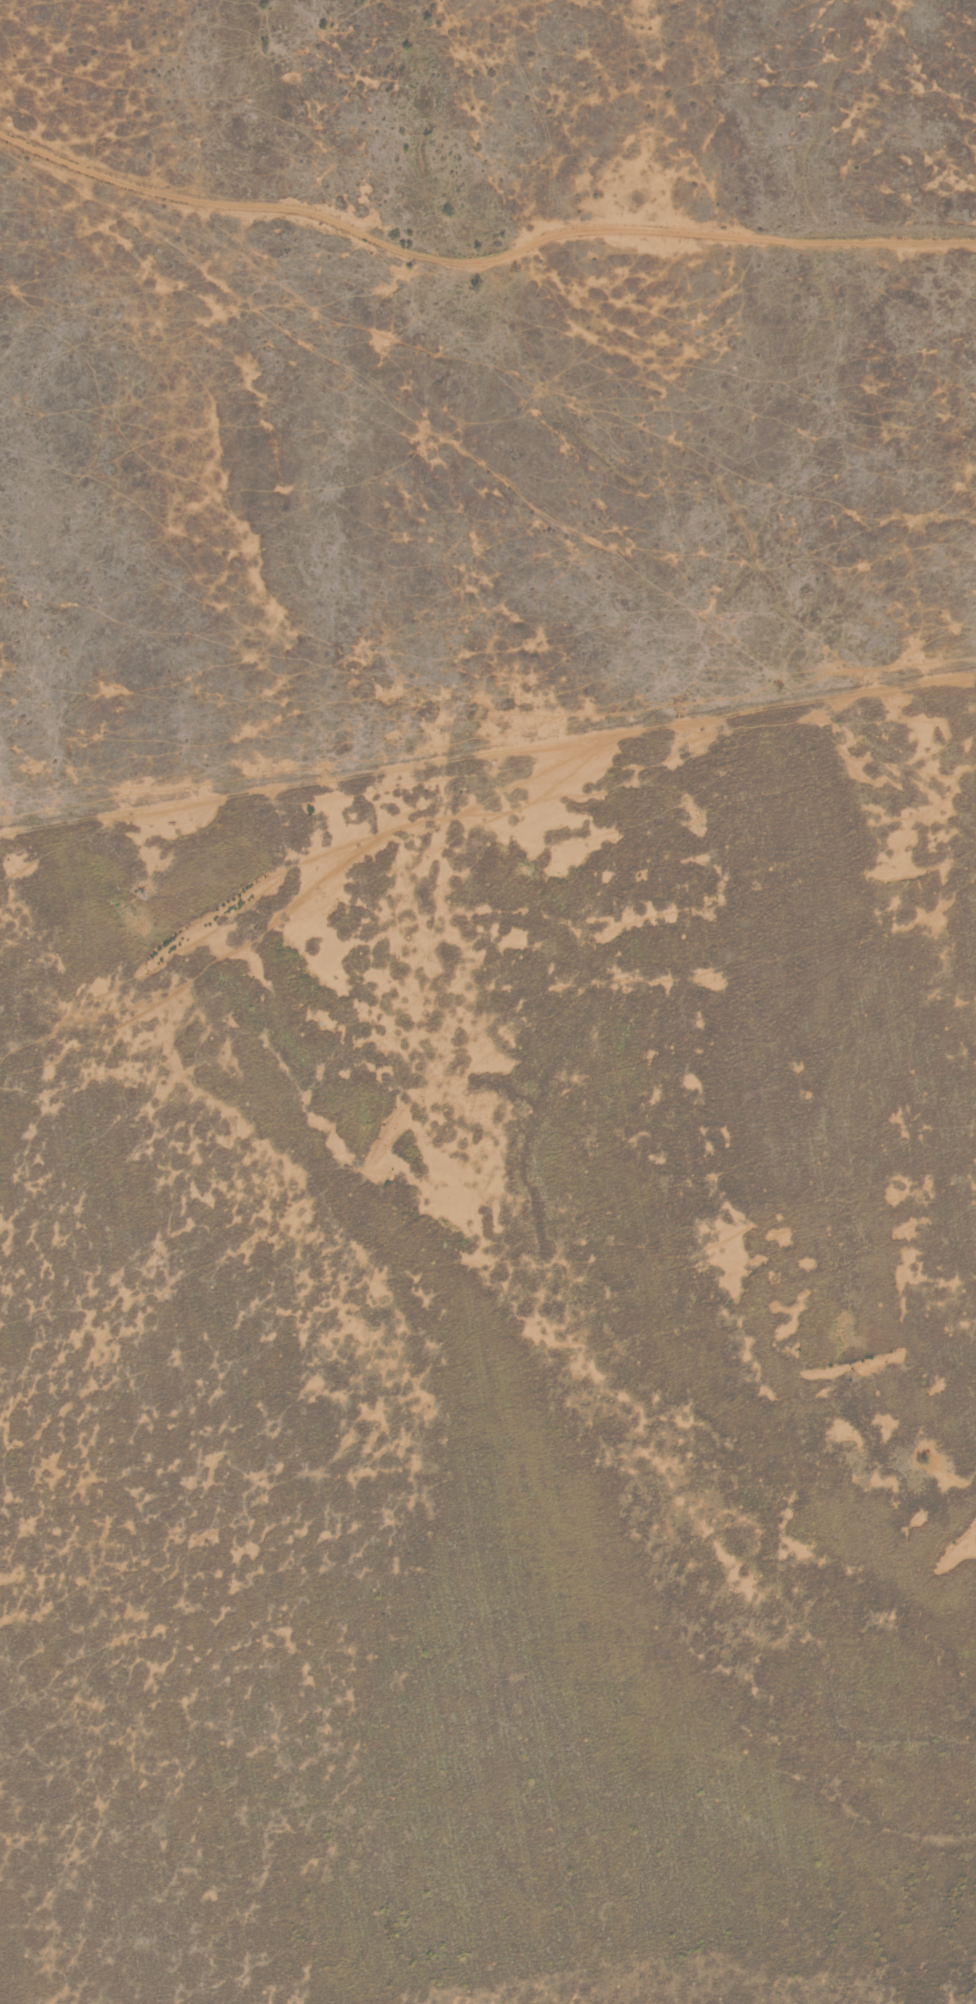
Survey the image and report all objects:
road: (478, 268)

